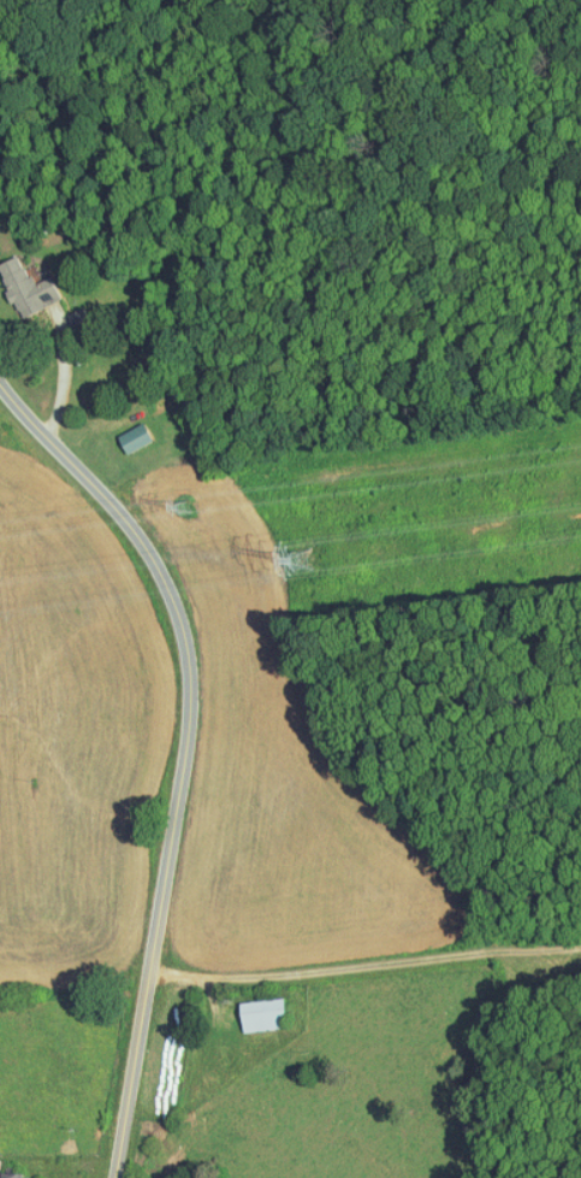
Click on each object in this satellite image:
building: (22, 282)
building: (128, 431)
power tower: (197, 516)
power tower: (319, 566)
road: (189, 752)
road: (366, 967)
building: (259, 1006)

